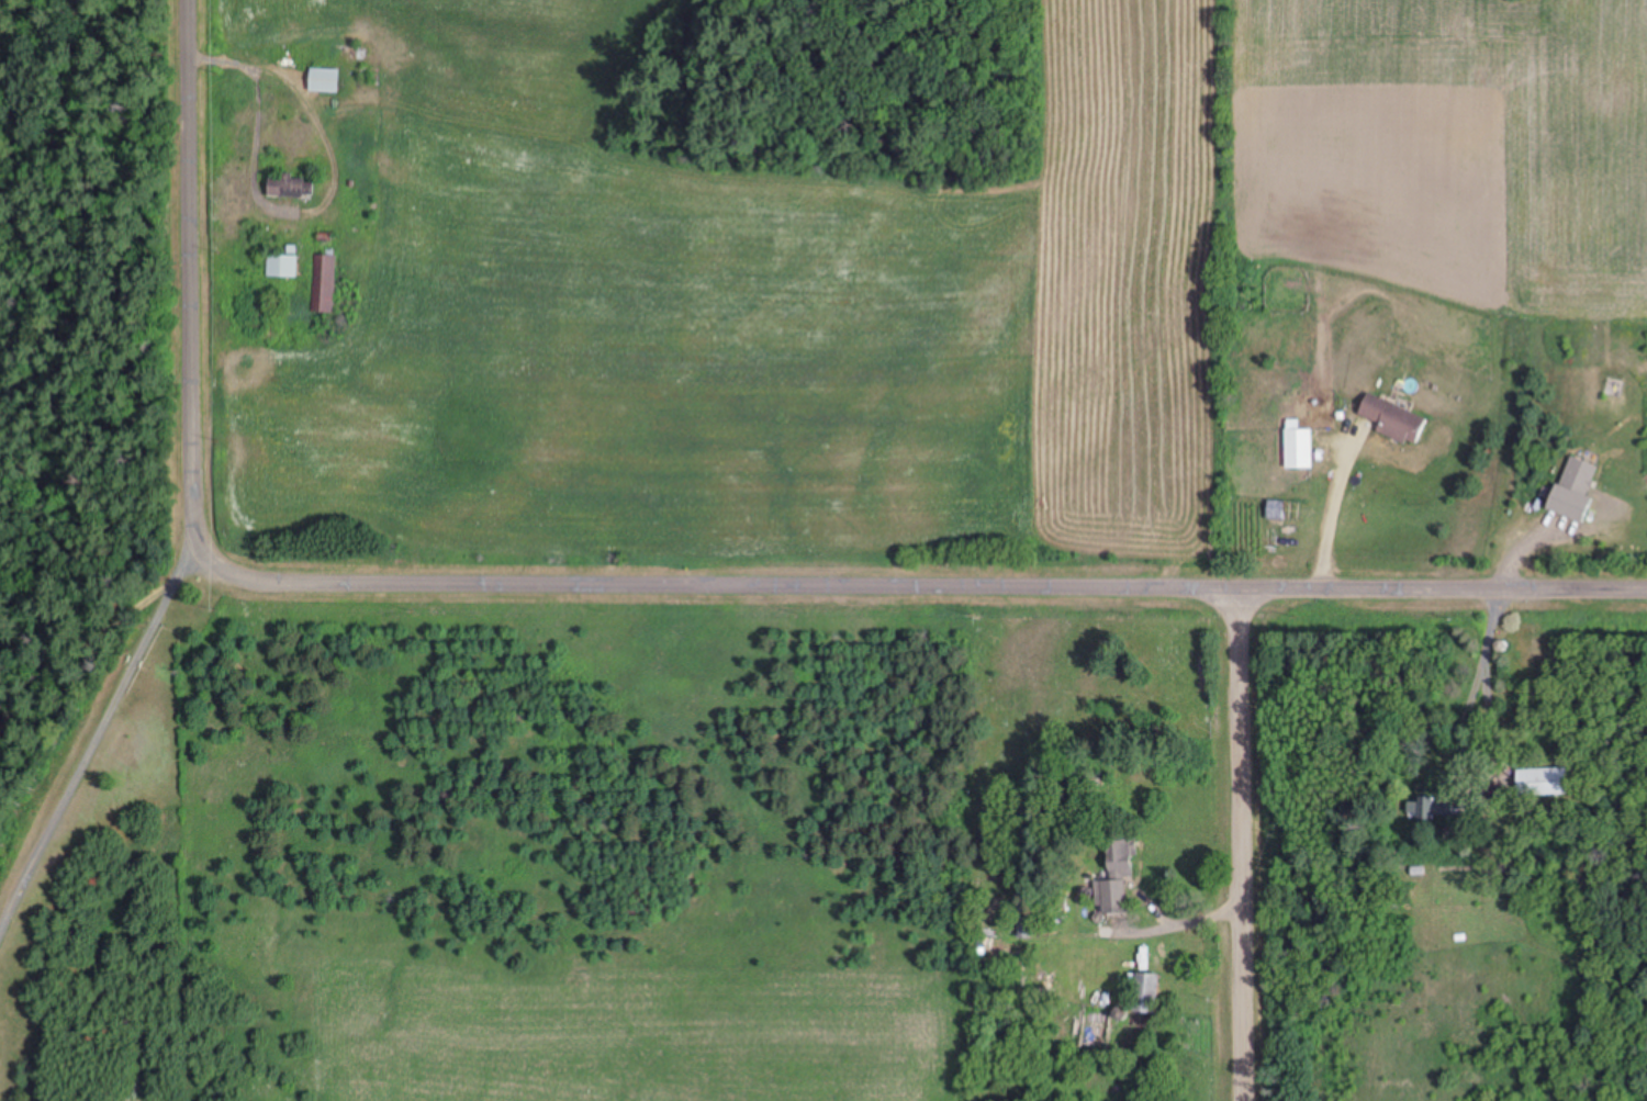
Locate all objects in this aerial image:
building: (321, 81)
building: (288, 187)
building: (279, 266)
road: (203, 276)
building: (321, 283)
building: (1390, 420)
building: (1296, 449)
building: (1575, 478)
road: (59, 540)
road: (927, 584)
road: (102, 604)
building: (222, 618)
building: (1540, 783)
building: (1428, 809)
road: (1242, 844)
building: (1119, 855)
building: (1109, 897)
building: (1023, 928)
building: (1143, 995)

